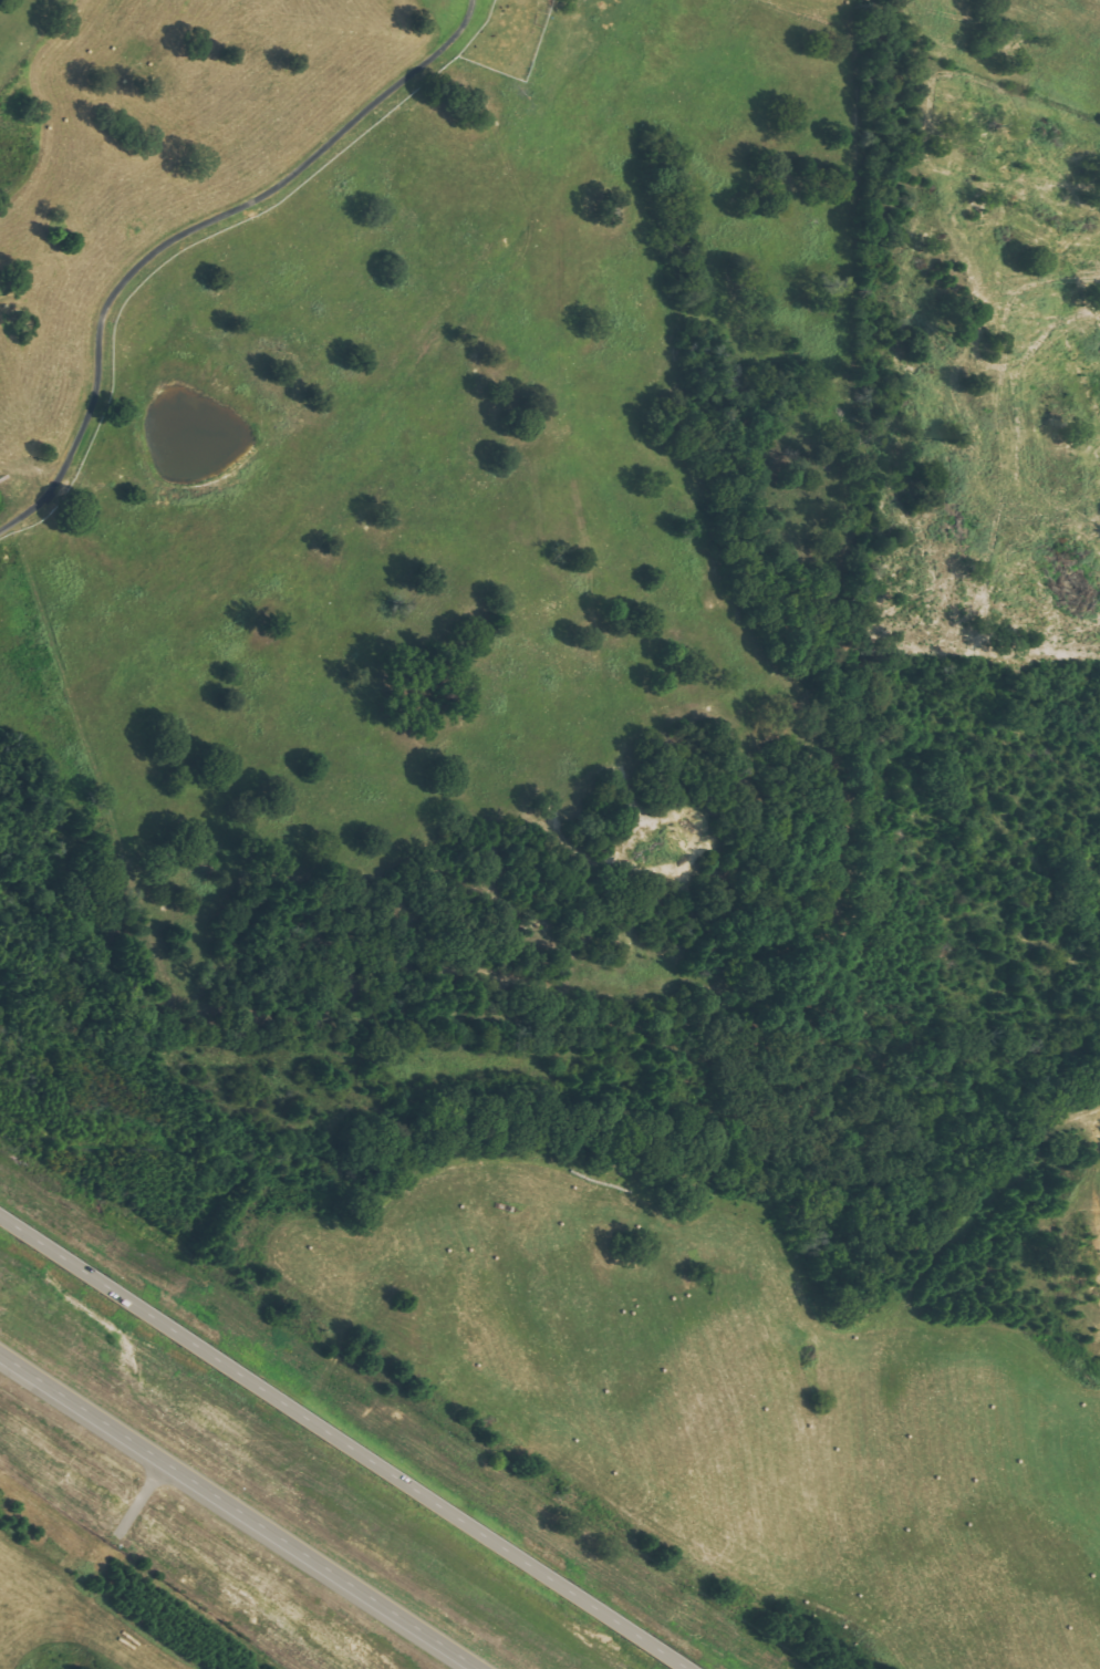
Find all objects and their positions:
road: (343, 1442)
road: (237, 1512)

